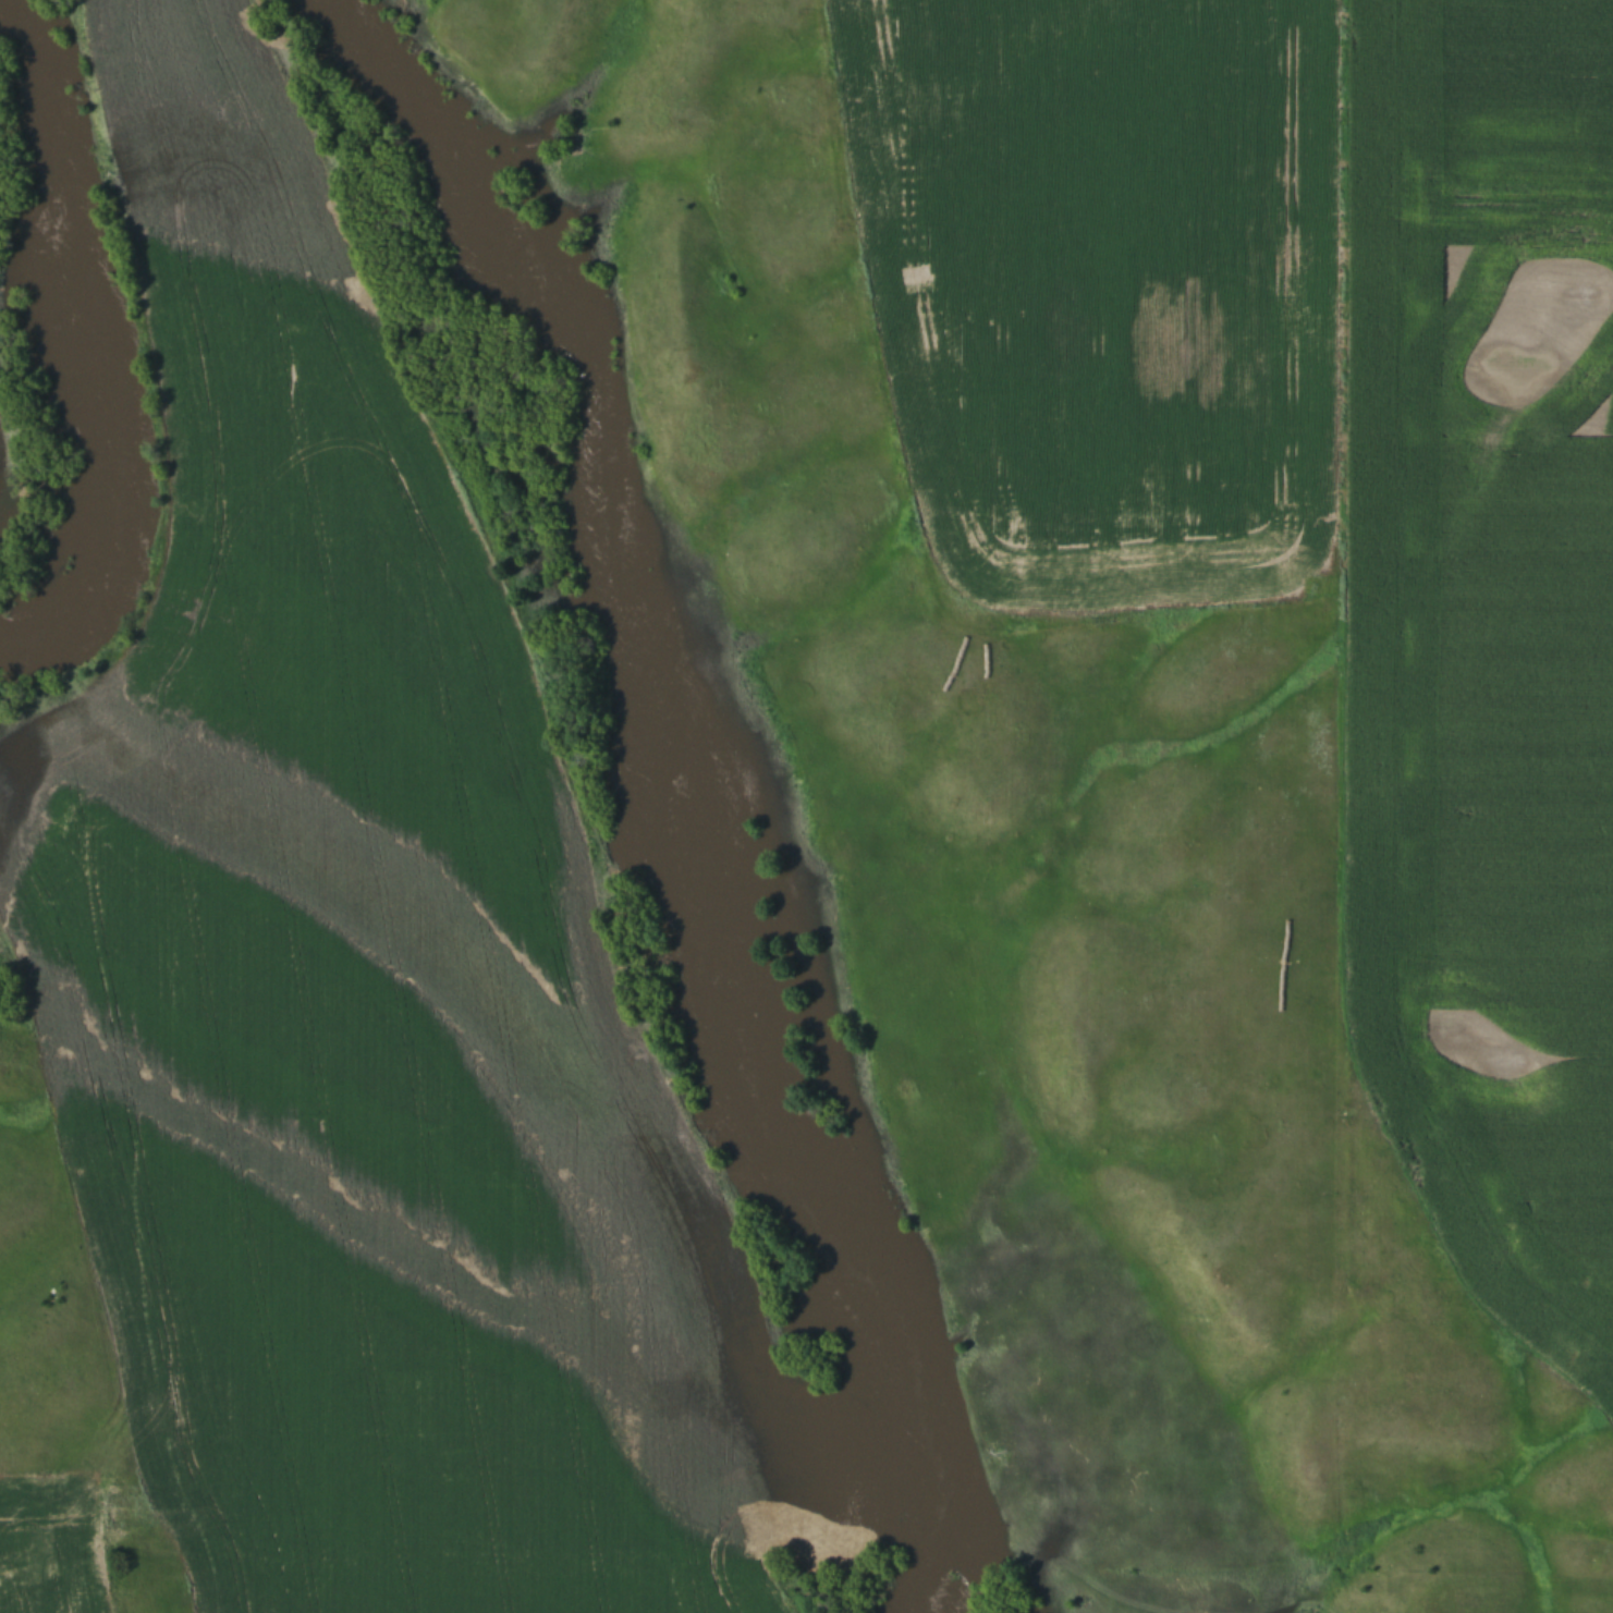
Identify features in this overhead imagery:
river: (94, 354)
river: (643, 796)

